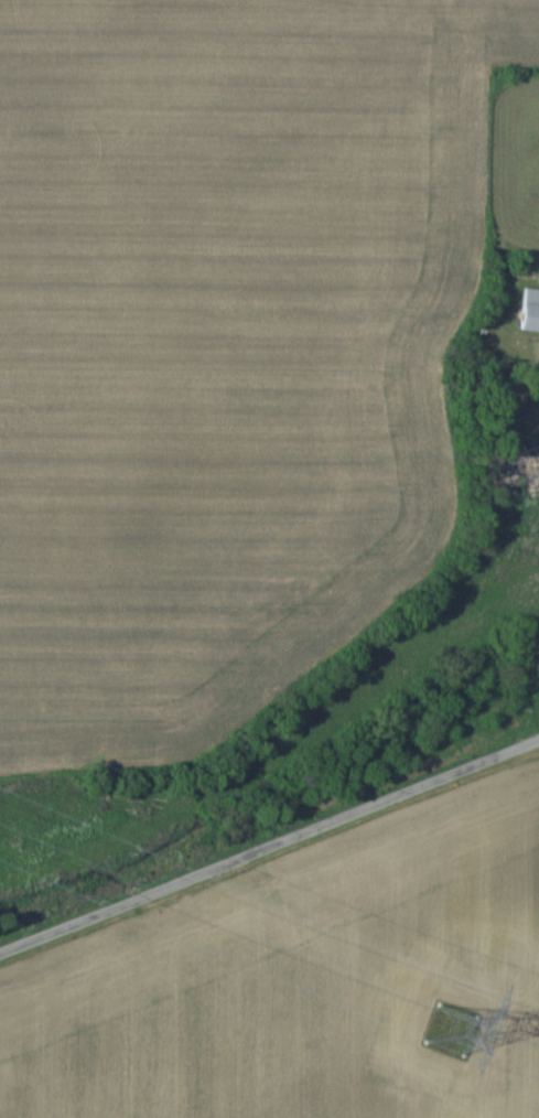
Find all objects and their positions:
building: (531, 308)
road: (269, 839)
power tower: (452, 1034)

